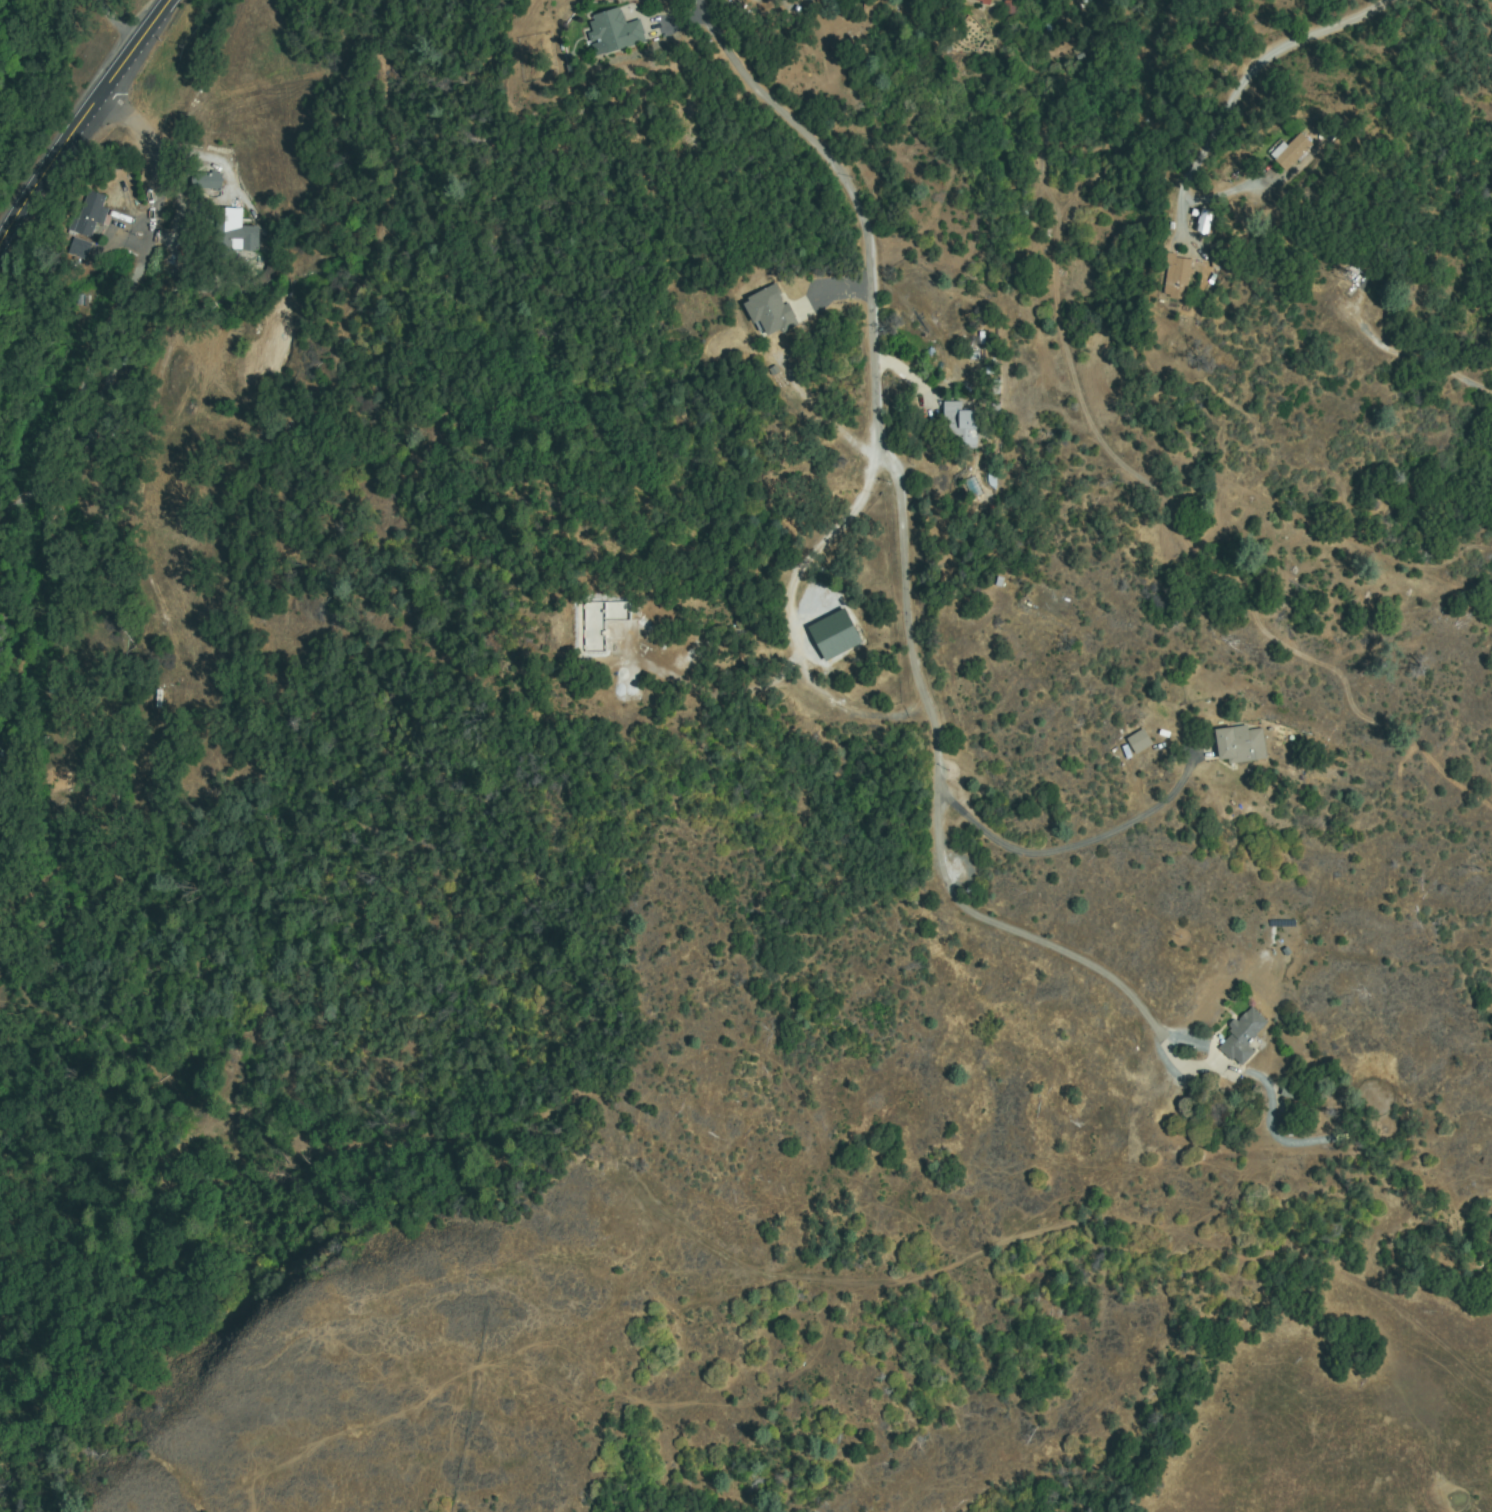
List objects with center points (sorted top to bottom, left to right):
building: (981, 1)
building: (989, 1)
building: (1009, 7)
road: (124, 18)
building: (615, 33)
road: (245, 69)
road: (81, 122)
building: (1292, 151)
building: (207, 180)
building: (90, 215)
building: (1204, 219)
building: (233, 234)
building: (80, 248)
building: (1177, 276)
building: (770, 312)
building: (293, 401)
road: (877, 406)
building: (107, 419)
building: (960, 427)
building: (992, 476)
building: (973, 488)
building: (831, 634)
building: (1139, 742)
building: (1240, 745)
building: (1242, 1037)

